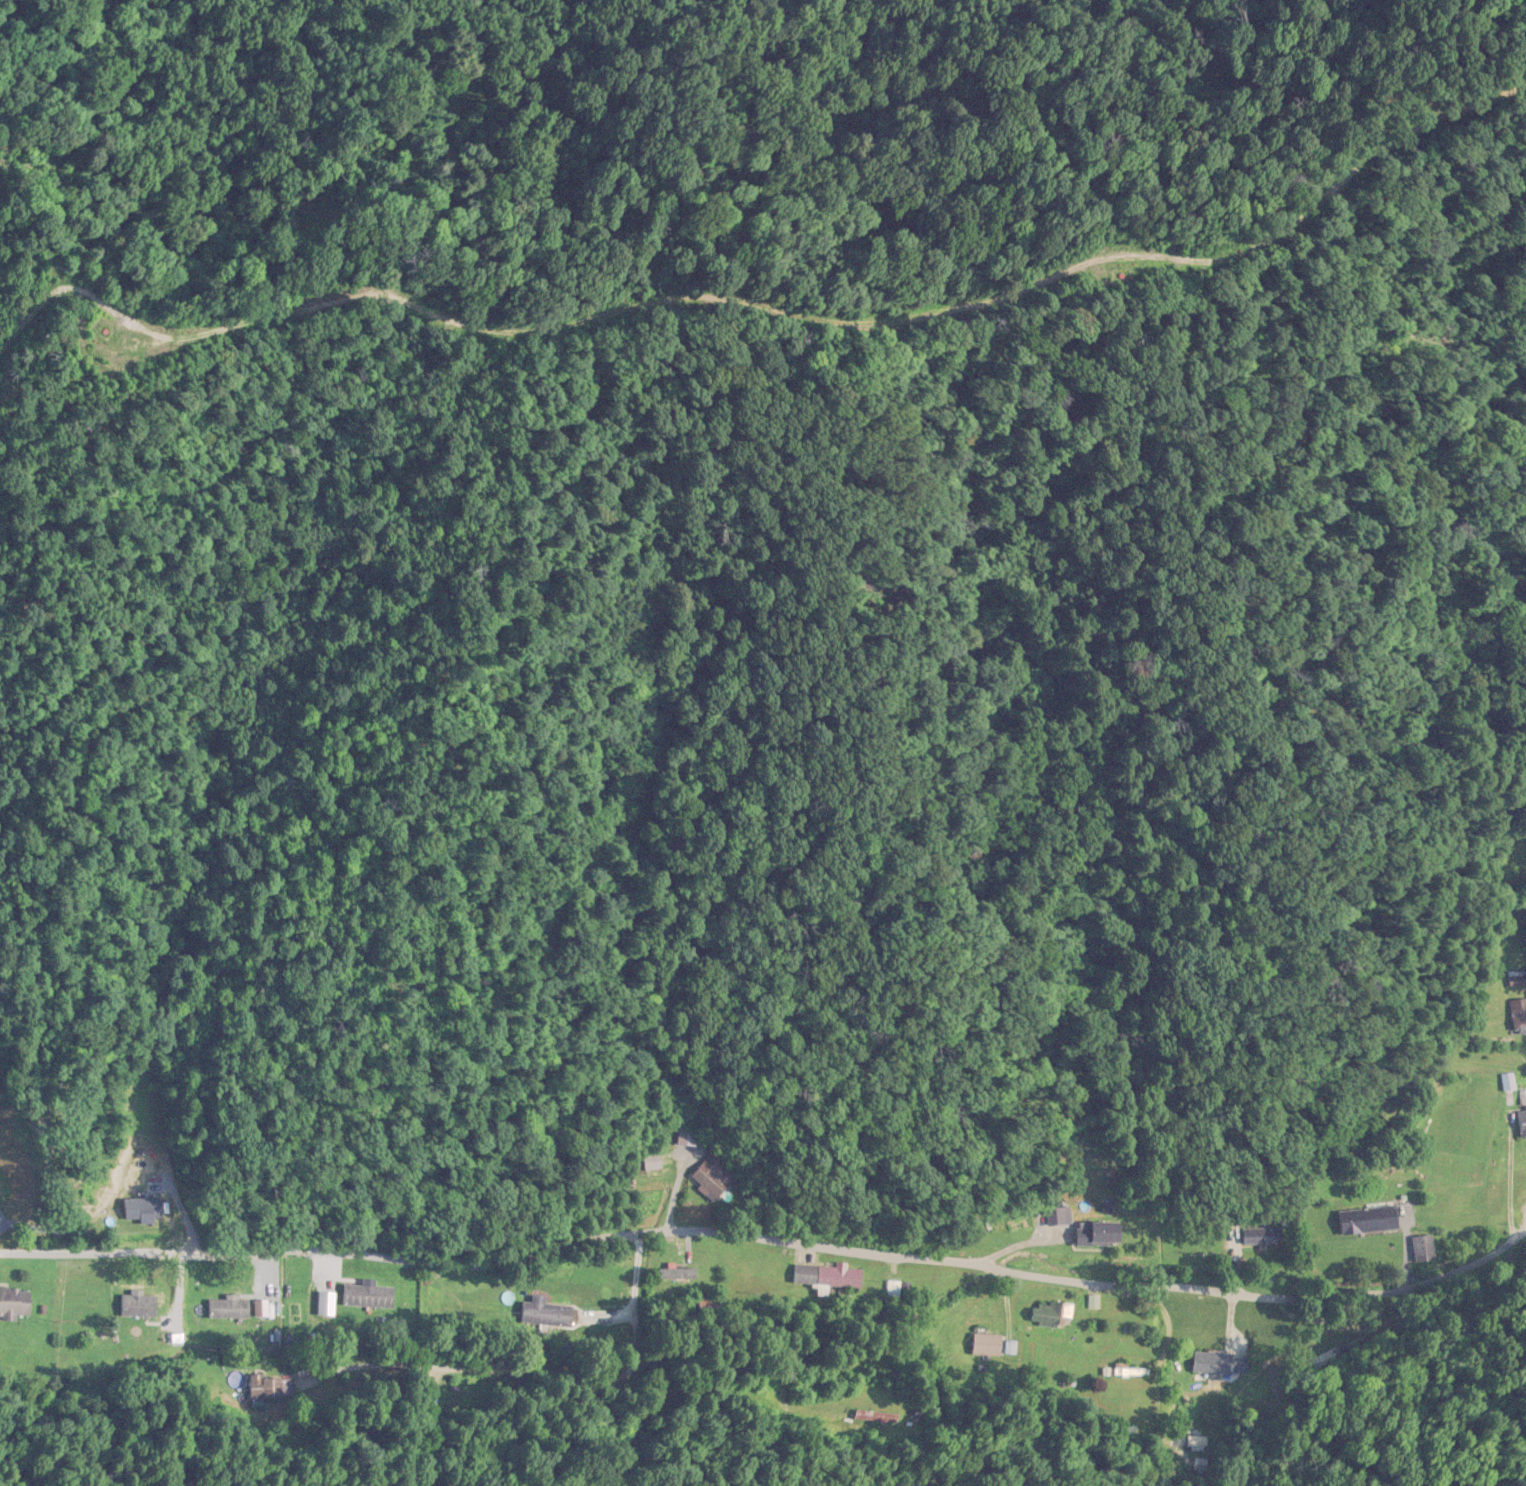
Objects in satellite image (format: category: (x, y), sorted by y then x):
building: (1519, 1017)
building: (690, 1136)
building: (712, 1177)
building: (1058, 1217)
building: (1369, 1220)
building: (1096, 1235)
building: (1260, 1236)
road: (771, 1240)
building: (1423, 1247)
building: (827, 1276)
building: (367, 1297)
building: (15, 1301)
building: (139, 1306)
building: (229, 1308)
building: (1217, 1364)

